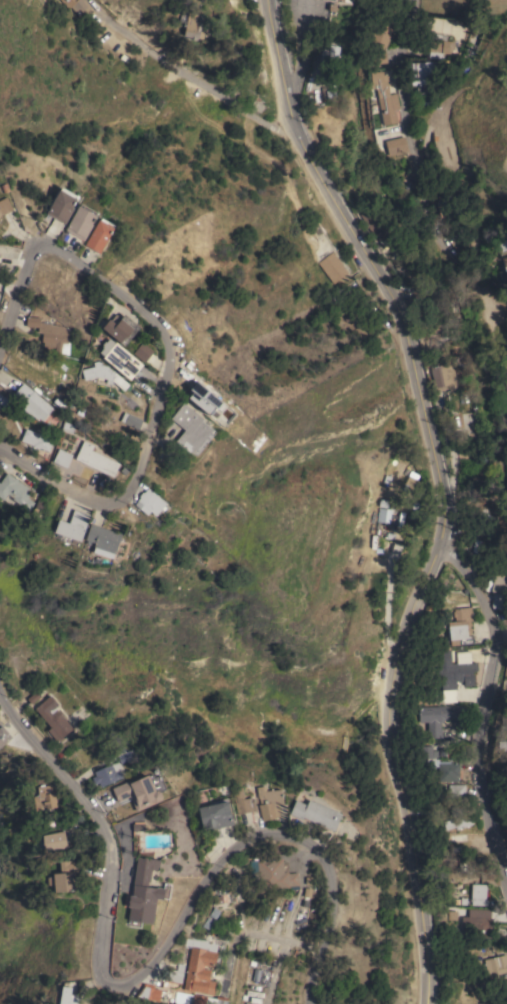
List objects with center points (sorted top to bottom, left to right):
building: (342, 1)
building: (77, 6)
building: (331, 7)
road: (305, 20)
building: (193, 27)
building: (380, 31)
building: (440, 46)
building: (329, 58)
road: (299, 68)
road: (186, 73)
building: (424, 76)
building: (381, 98)
building: (393, 146)
building: (441, 150)
road: (413, 161)
building: (445, 202)
building: (4, 207)
building: (56, 207)
road: (341, 216)
building: (76, 223)
building: (380, 230)
building: (471, 235)
building: (94, 237)
building: (332, 266)
building: (506, 269)
road: (106, 293)
road: (17, 297)
building: (430, 324)
building: (115, 330)
building: (48, 336)
building: (139, 353)
building: (116, 361)
building: (100, 376)
building: (443, 376)
building: (209, 403)
building: (31, 404)
building: (128, 422)
building: (65, 429)
building: (184, 431)
road: (153, 433)
building: (31, 438)
building: (59, 459)
building: (93, 462)
road: (58, 484)
road: (441, 486)
building: (13, 496)
building: (147, 504)
building: (386, 522)
building: (65, 528)
building: (97, 541)
building: (500, 583)
road: (471, 585)
road: (418, 595)
building: (498, 600)
building: (461, 626)
building: (462, 656)
building: (454, 672)
building: (447, 697)
building: (439, 716)
building: (49, 719)
building: (1, 740)
building: (501, 750)
road: (479, 751)
building: (124, 754)
building: (427, 757)
building: (448, 771)
building: (107, 774)
building: (457, 790)
building: (139, 792)
building: (38, 799)
building: (239, 804)
building: (266, 804)
building: (209, 816)
building: (312, 816)
building: (458, 820)
road: (409, 824)
building: (46, 844)
building: (273, 874)
building: (59, 881)
building: (139, 892)
building: (479, 894)
building: (223, 896)
building: (479, 922)
road: (280, 937)
road: (155, 955)
building: (496, 964)
building: (199, 965)
building: (171, 976)
building: (69, 994)
building: (146, 994)
building: (197, 1000)
building: (216, 1001)

